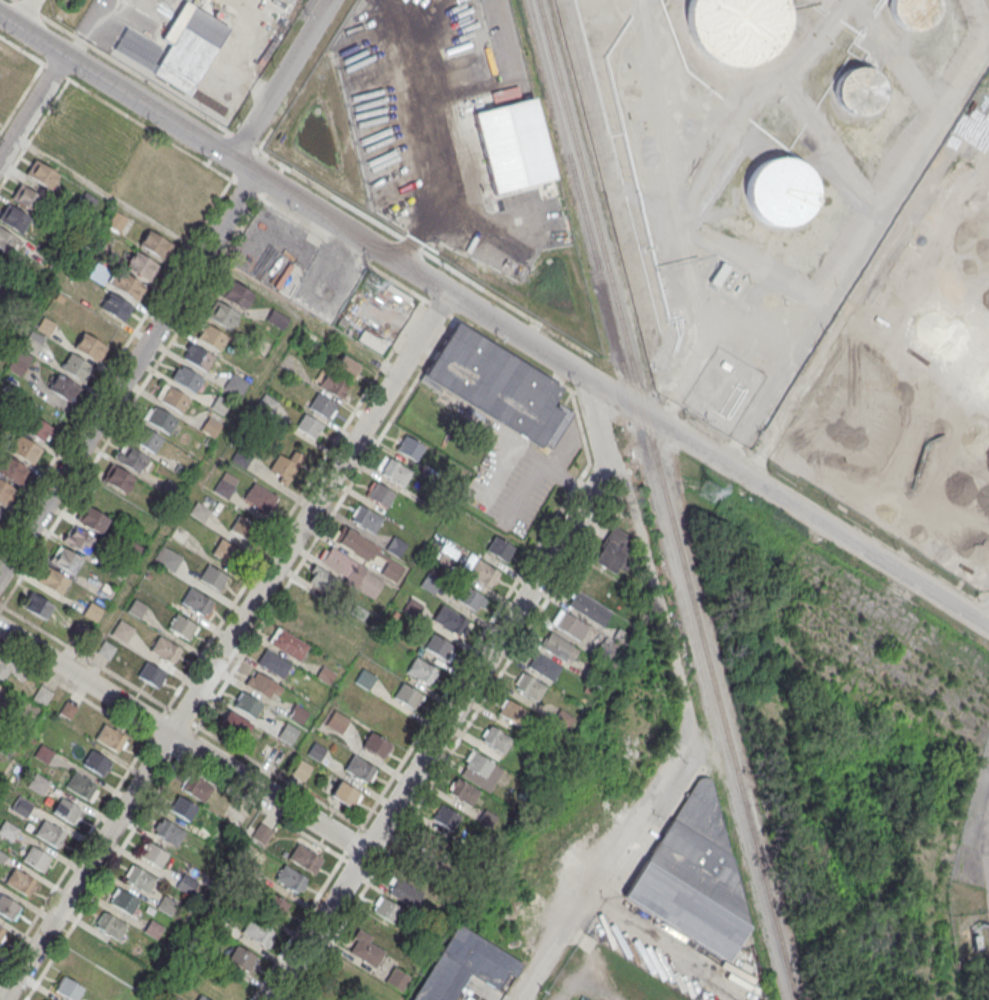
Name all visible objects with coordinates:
wastewater plant: (65, 11)
road: (23, 12)
building: (913, 12)
storage tank: (913, 12)
building: (736, 27)
storage tank: (736, 27)
building: (190, 47)
road: (279, 79)
building: (857, 90)
storage tank: (857, 90)
road: (31, 105)
road: (416, 133)
road: (5, 137)
building: (41, 174)
building: (779, 191)
storage tank: (779, 191)
building: (25, 196)
building: (14, 217)
building: (8, 242)
building: (153, 243)
road: (371, 245)
road: (203, 257)
building: (140, 264)
power tower: (368, 283)
building: (126, 284)
building: (235, 294)
building: (115, 306)
building: (222, 315)
building: (277, 319)
building: (211, 337)
building: (89, 346)
building: (199, 357)
building: (18, 364)
building: (725, 364)
building: (346, 366)
building: (76, 367)
road: (126, 373)
building: (187, 378)
building: (332, 383)
building: (236, 384)
building: (497, 385)
building: (63, 387)
building: (174, 398)
building: (322, 405)
building: (161, 419)
building: (210, 426)
building: (309, 426)
building: (38, 428)
building: (146, 438)
building: (24, 448)
building: (409, 448)
building: (131, 458)
building: (285, 466)
building: (12, 469)
building: (395, 472)
building: (118, 478)
building: (225, 484)
power tower: (704, 489)
building: (5, 492)
building: (380, 494)
building: (260, 497)
railway: (665, 500)
building: (0, 508)
building: (200, 511)
building: (365, 518)
building: (93, 519)
building: (241, 526)
road: (636, 526)
building: (79, 539)
building: (395, 546)
building: (499, 548)
building: (612, 548)
building: (224, 550)
road: (866, 550)
building: (169, 558)
building: (66, 560)
building: (392, 569)
building: (483, 572)
building: (344, 573)
building: (212, 576)
building: (54, 579)
building: (593, 581)
building: (429, 582)
building: (471, 598)
building: (196, 601)
building: (37, 604)
building: (136, 607)
building: (412, 607)
building: (588, 607)
building: (93, 611)
building: (450, 620)
building: (569, 625)
building: (182, 626)
building: (122, 631)
road: (666, 642)
building: (288, 644)
road: (224, 646)
building: (438, 647)
building: (559, 647)
building: (106, 649)
building: (165, 649)
building: (274, 664)
building: (5, 666)
building: (544, 666)
building: (421, 670)
building: (152, 674)
building: (325, 674)
building: (365, 679)
building: (262, 684)
building: (529, 687)
road: (462, 695)
building: (408, 696)
building: (247, 704)
building: (511, 711)
building: (297, 713)
building: (337, 721)
building: (234, 723)
building: (288, 732)
building: (110, 737)
building: (496, 738)
road: (181, 740)
building: (376, 744)
building: (316, 750)
building: (44, 753)
building: (271, 754)
building: (96, 761)
building: (478, 764)
building: (360, 769)
building: (301, 770)
building: (37, 783)
building: (82, 786)
building: (197, 787)
building: (463, 791)
building: (345, 793)
building: (22, 806)
building: (183, 807)
building: (66, 809)
building: (445, 816)
building: (168, 831)
building: (50, 833)
building: (261, 833)
road: (618, 841)
building: (426, 845)
building: (152, 854)
building: (304, 857)
building: (36, 858)
building: (694, 877)
building: (139, 878)
building: (290, 878)
building: (20, 881)
building: (186, 883)
building: (405, 892)
building: (123, 900)
building: (274, 904)
building: (167, 905)
building: (8, 907)
building: (387, 910)
building: (109, 925)
building: (153, 928)
building: (2, 933)
building: (260, 934)
building: (365, 948)
building: (242, 957)
building: (464, 966)
building: (68, 988)
building: (202, 997)

